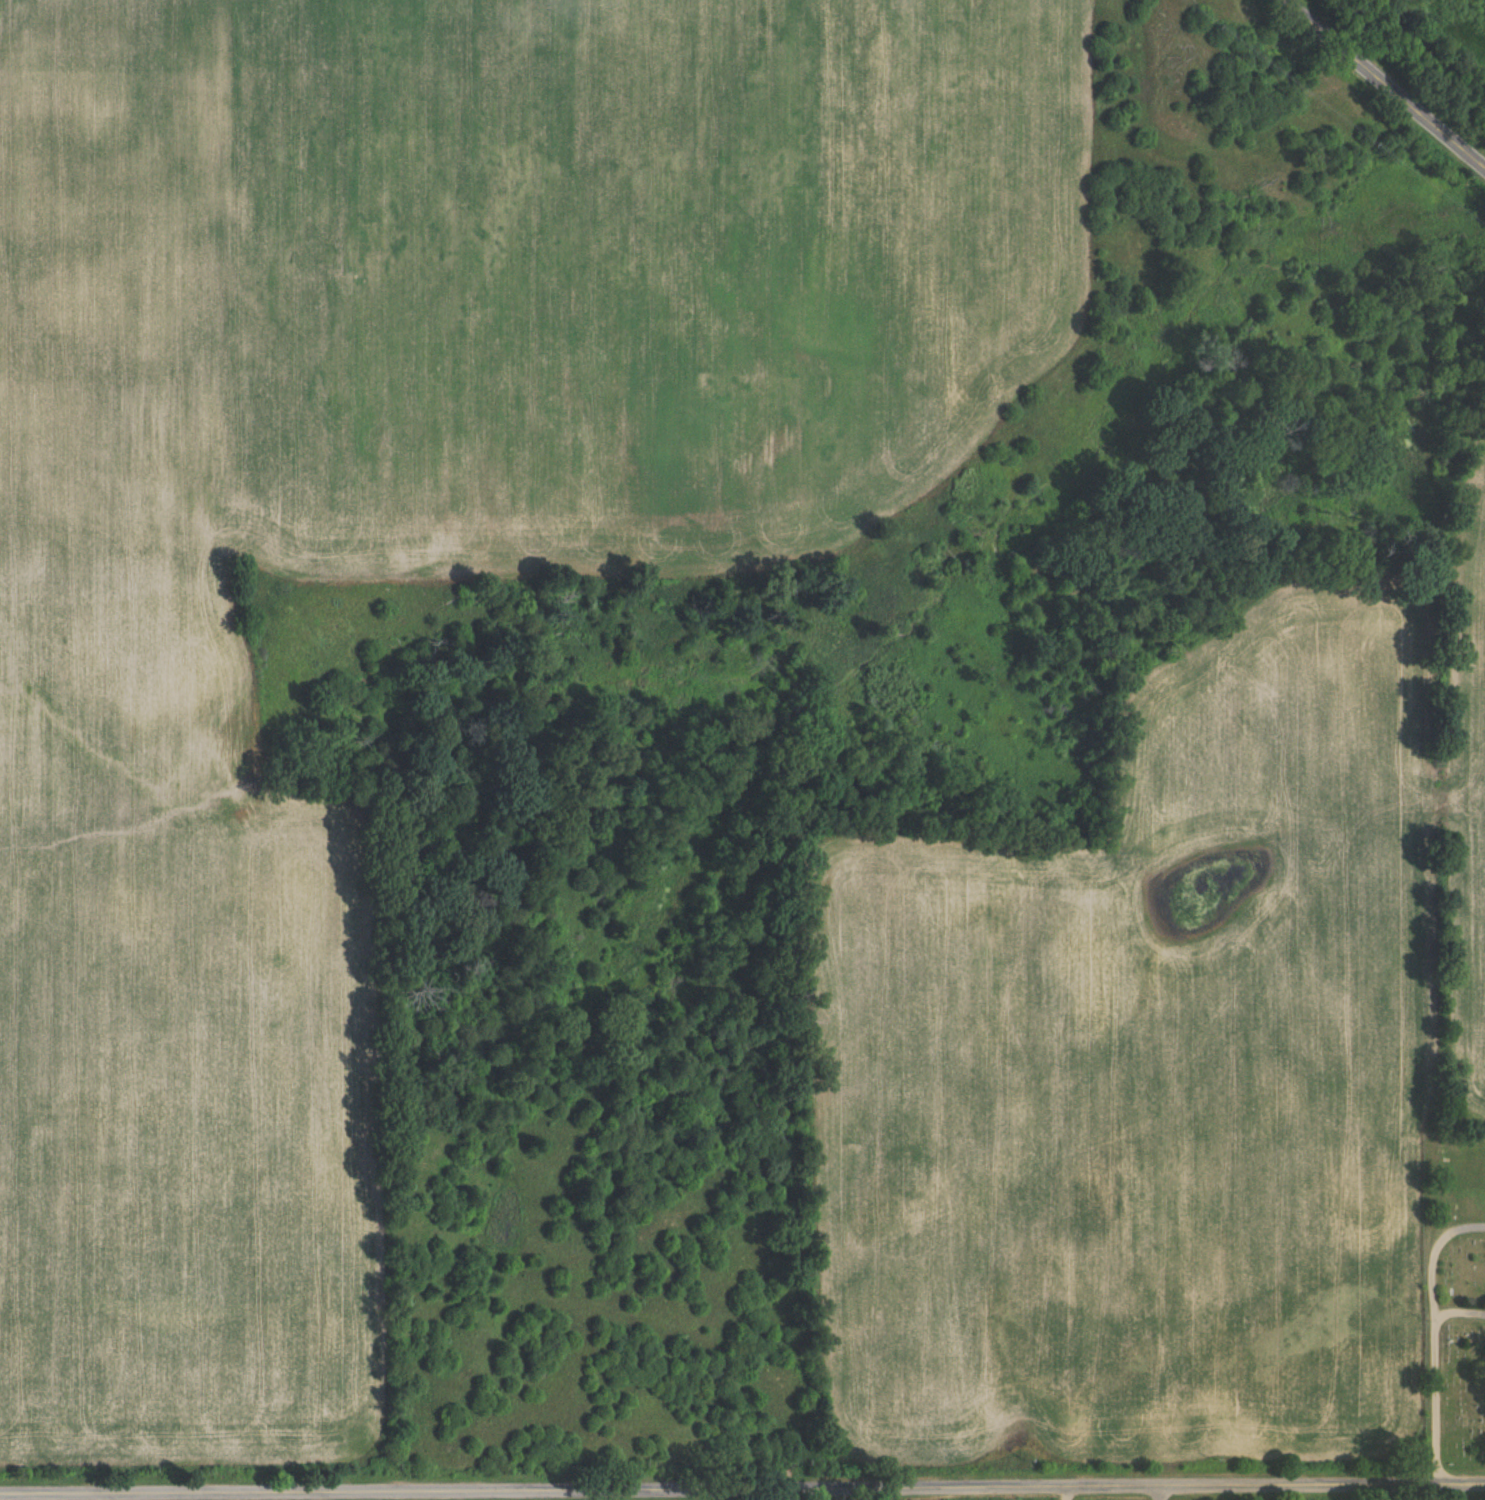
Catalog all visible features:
road: (1385, 81)
road: (1440, 1257)
park: (1455, 1294)
road: (1463, 1317)
road: (1441, 1403)
road: (742, 1488)
road: (1069, 1493)

